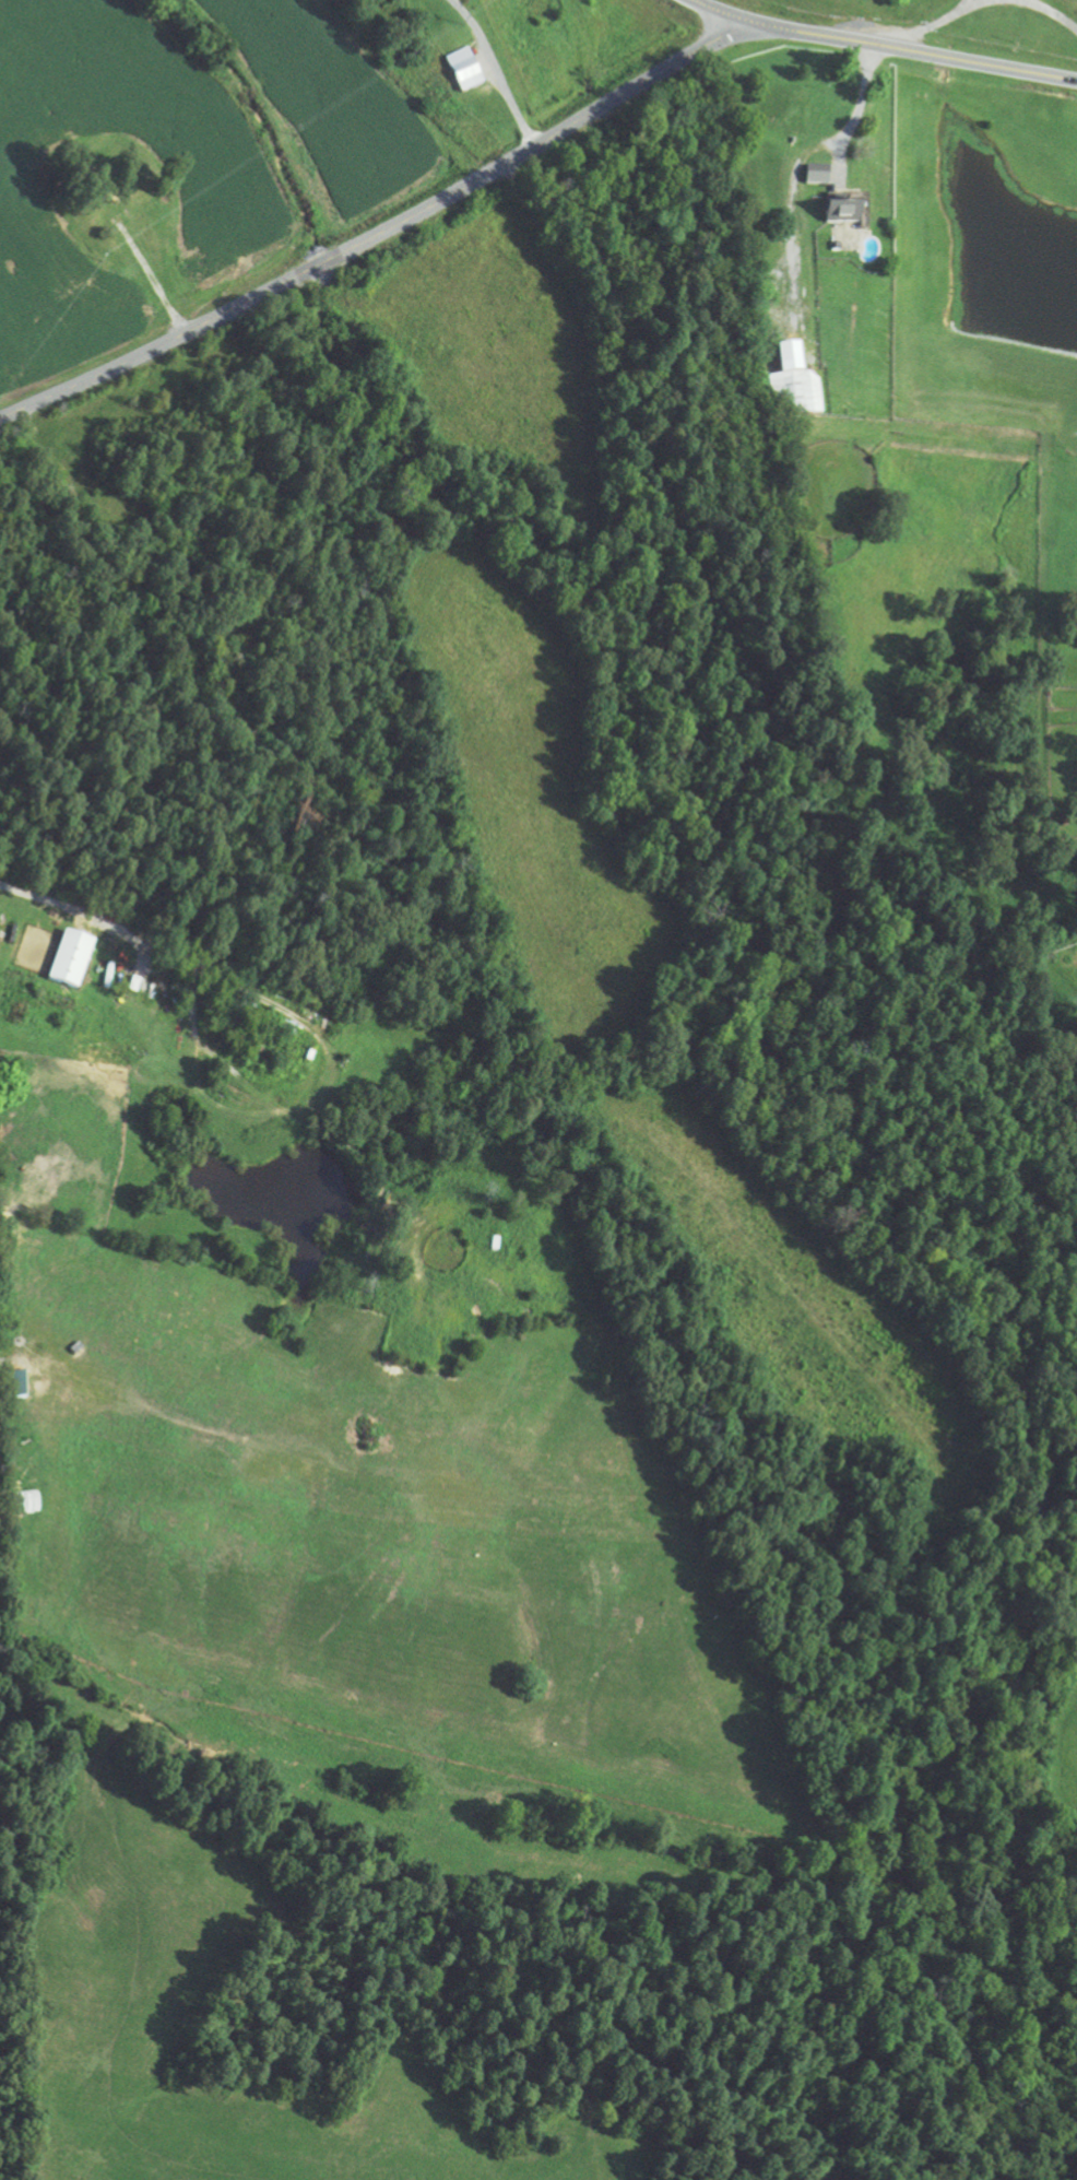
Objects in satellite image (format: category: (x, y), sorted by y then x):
road: (887, 46)
building: (462, 69)
building: (815, 175)
building: (843, 209)
road: (382, 232)
building: (793, 387)
building: (12, 1386)

